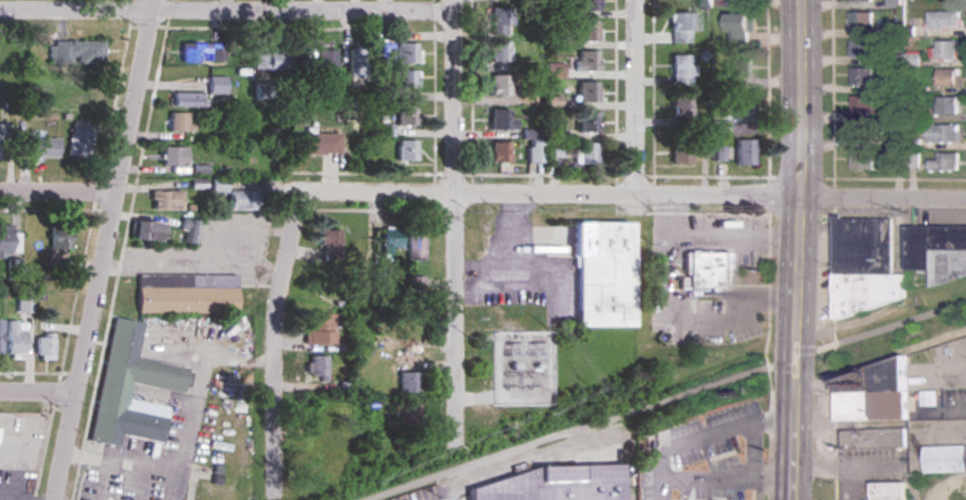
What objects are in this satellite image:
park: (24, 0)
building: (863, 0)
building: (586, 6)
road: (231, 12)
building: (946, 19)
building: (862, 20)
building: (499, 21)
building: (682, 28)
building: (744, 28)
building: (586, 31)
building: (863, 48)
building: (948, 49)
building: (76, 52)
building: (499, 52)
building: (202, 53)
building: (406, 54)
building: (381, 55)
building: (270, 61)
building: (585, 62)
building: (357, 63)
building: (325, 64)
building: (743, 67)
building: (681, 70)
building: (864, 75)
building: (950, 77)
building: (405, 80)
building: (217, 86)
building: (499, 86)
building: (262, 92)
building: (79, 94)
building: (586, 94)
road: (634, 97)
building: (186, 100)
building: (868, 103)
building: (948, 105)
building: (744, 108)
building: (680, 112)
building: (406, 115)
building: (501, 120)
building: (180, 122)
building: (587, 123)
building: (384, 131)
building: (864, 131)
building: (946, 133)
building: (1, 141)
building: (79, 144)
building: (315, 145)
building: (42, 147)
building: (406, 151)
building: (499, 153)
building: (679, 153)
building: (744, 153)
building: (586, 154)
building: (174, 156)
building: (864, 160)
building: (946, 162)
building: (218, 186)
road: (639, 195)
road: (61, 199)
building: (165, 199)
building: (243, 200)
road: (461, 222)
building: (148, 230)
building: (189, 231)
building: (57, 236)
road: (717, 236)
building: (391, 239)
building: (9, 241)
building: (356, 242)
building: (330, 244)
building: (416, 246)
road: (113, 250)
road: (800, 250)
building: (937, 251)
building: (866, 264)
building: (704, 266)
building: (602, 275)
building: (415, 283)
building: (181, 297)
road: (689, 321)
building: (0, 336)
road: (277, 336)
building: (14, 338)
building: (319, 338)
building: (43, 346)
building: (318, 366)
power substation: (522, 366)
building: (142, 375)
building: (408, 381)
road: (195, 383)
building: (871, 392)
road: (42, 395)
road: (663, 399)
building: (406, 414)
road: (704, 431)
building: (875, 437)
road: (754, 444)
building: (945, 458)
building: (317, 463)
road: (121, 464)
road: (730, 472)
road: (99, 480)
building: (555, 480)
road: (171, 488)
building: (890, 491)

